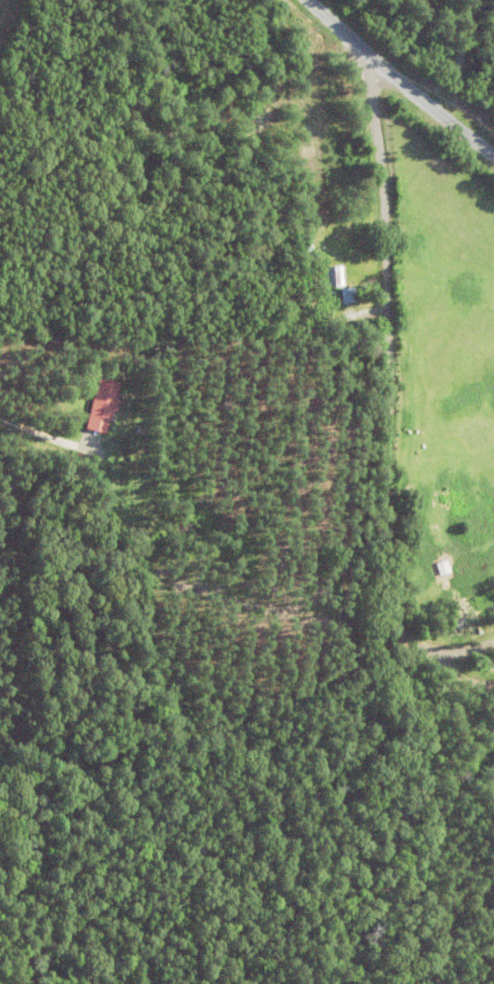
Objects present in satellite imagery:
road: (393, 85)
building: (323, 276)
road: (392, 399)
building: (85, 406)
building: (170, 524)

